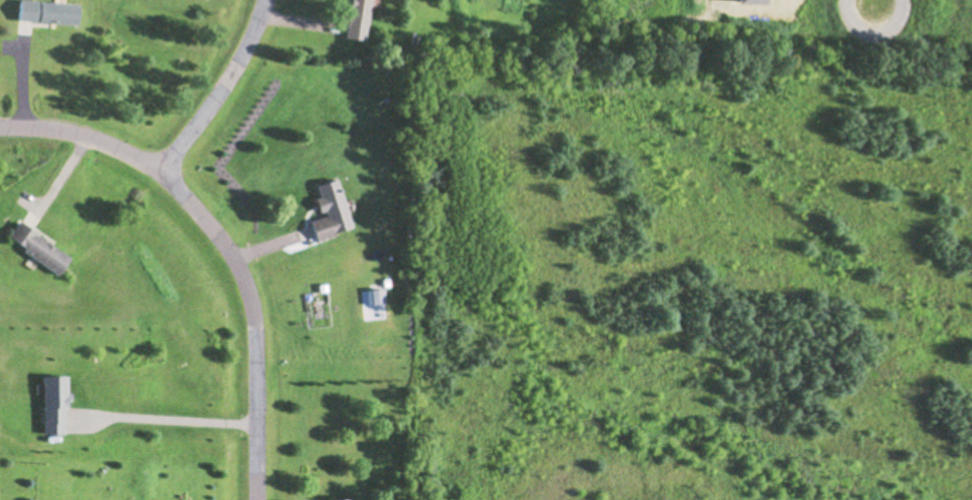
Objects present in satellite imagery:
building: (48, 11)
building: (358, 19)
road: (220, 87)
building: (331, 211)
road: (222, 240)
building: (37, 247)
crop: (699, 258)
road: (164, 420)
building: (340, 498)

